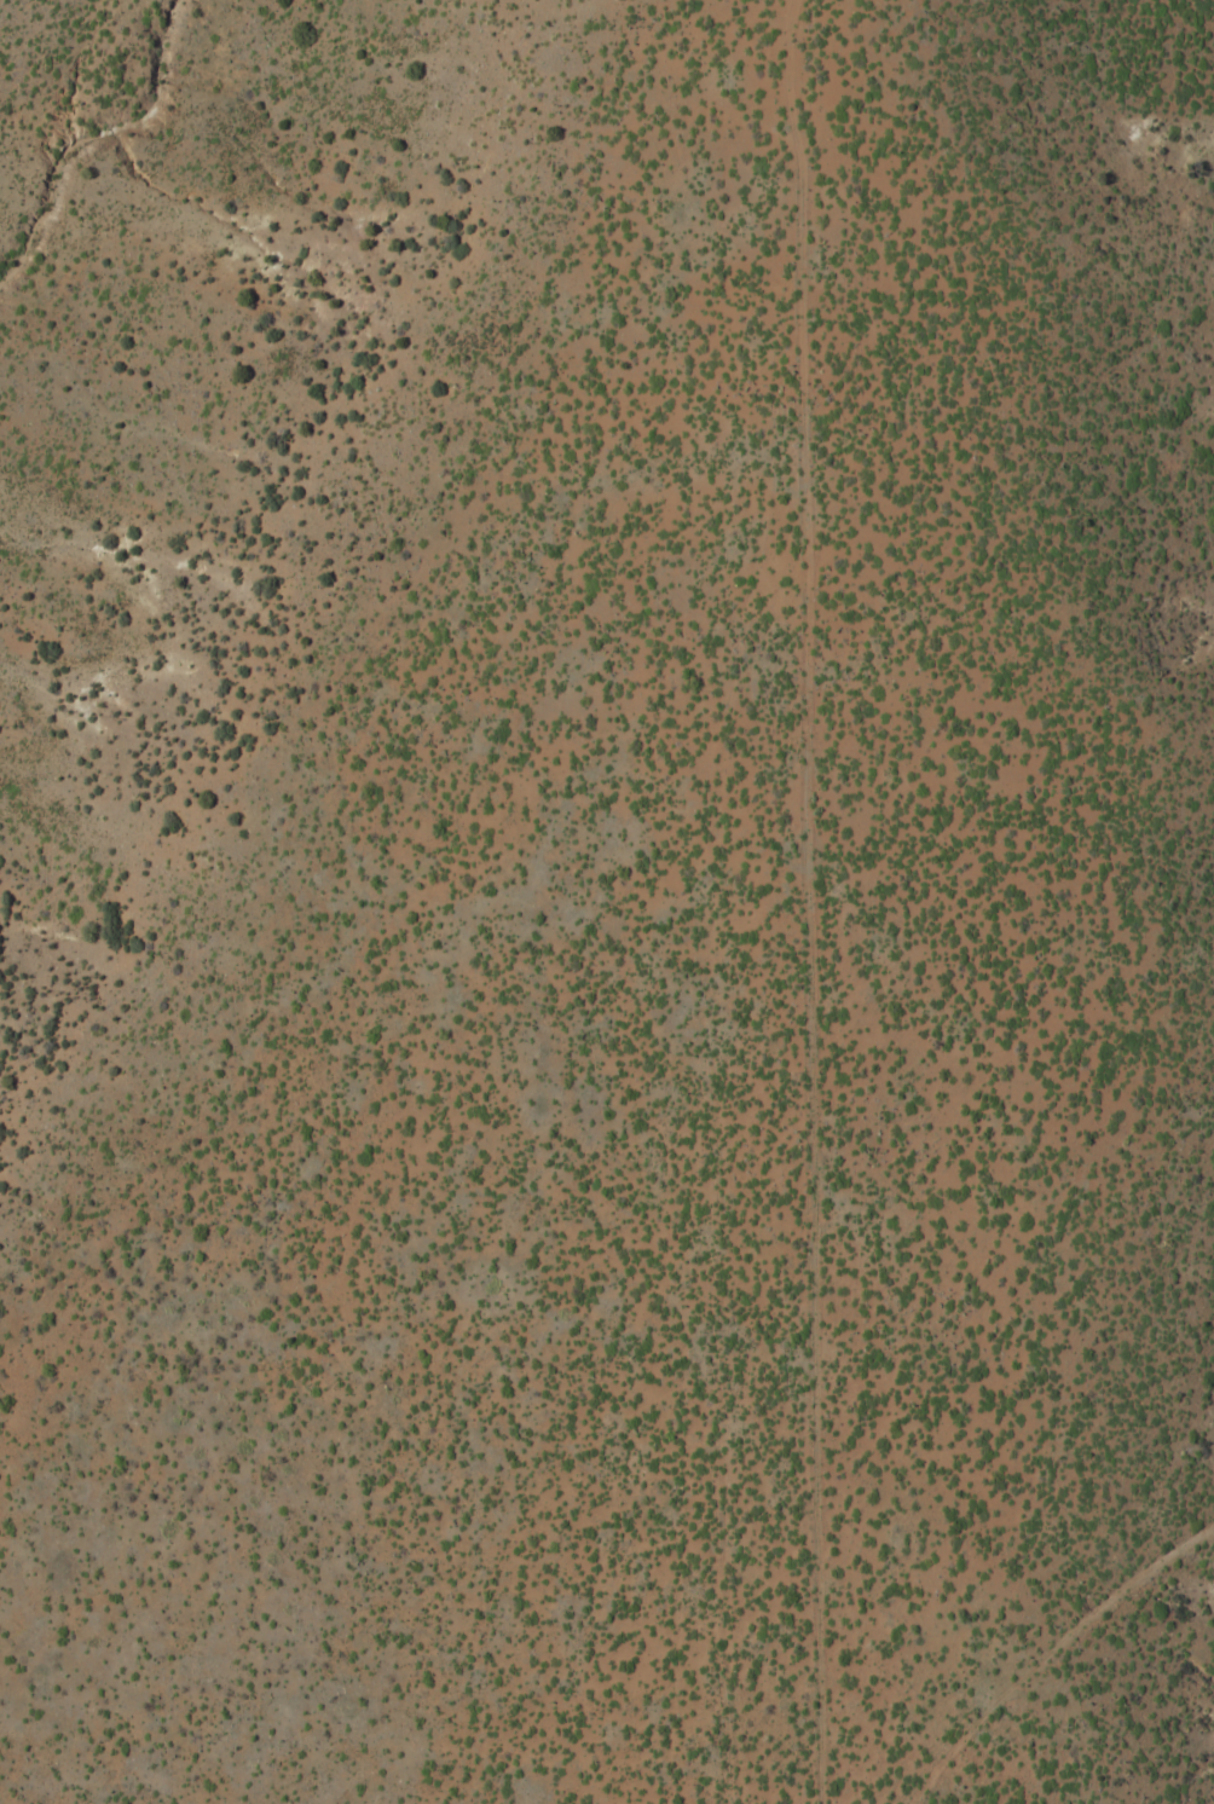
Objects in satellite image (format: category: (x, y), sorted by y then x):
road: (809, 901)

